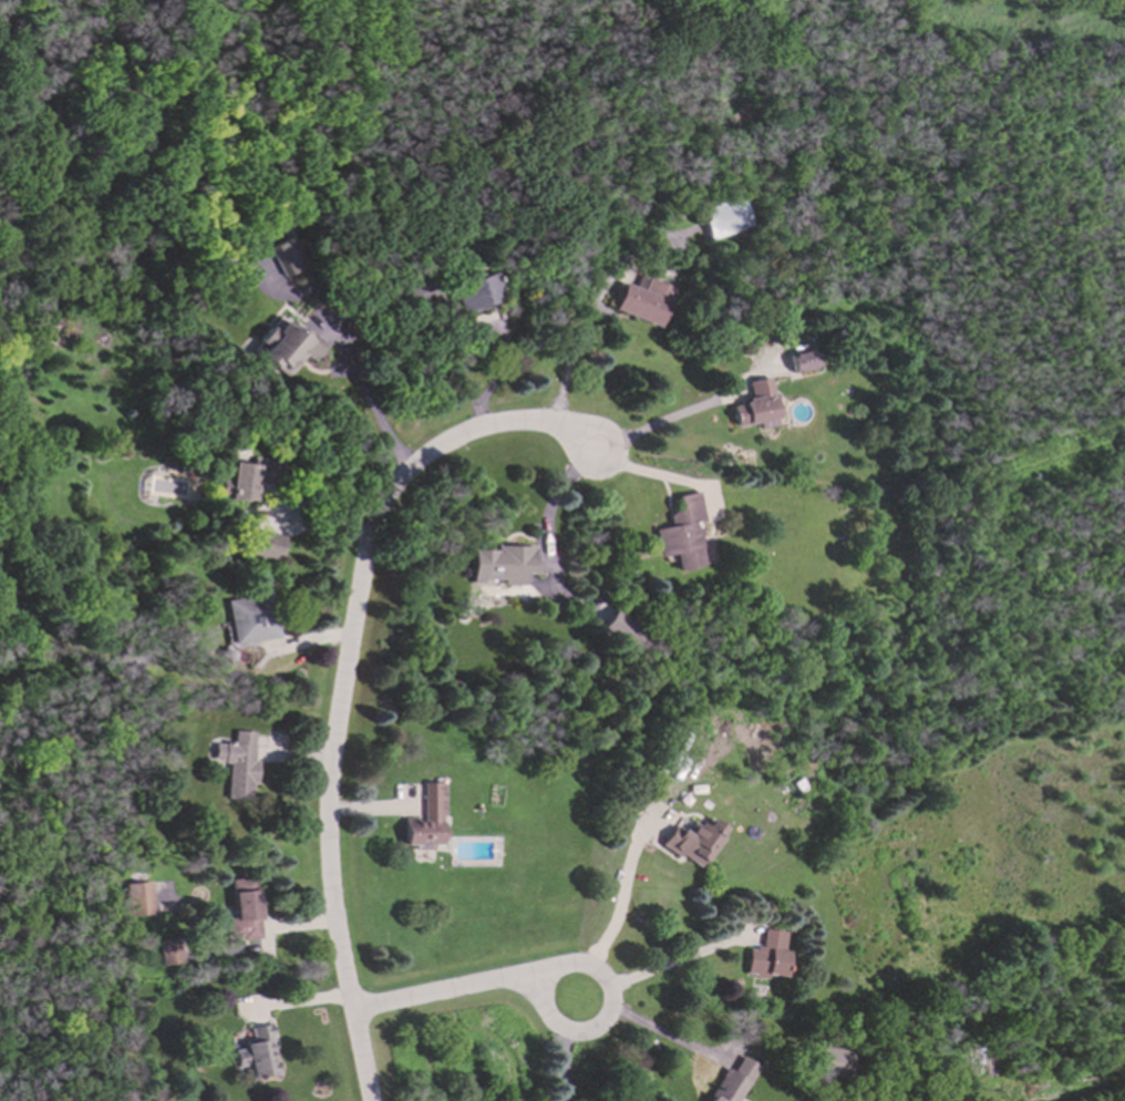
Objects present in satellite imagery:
quarry: (660, 10)
park: (1118, 114)
building: (724, 218)
building: (283, 258)
building: (474, 294)
building: (642, 301)
building: (286, 347)
building: (799, 362)
road: (565, 368)
road: (364, 395)
building: (753, 407)
road: (654, 424)
road: (651, 466)
building: (237, 484)
road: (282, 504)
road: (547, 511)
building: (678, 535)
building: (262, 545)
building: (499, 565)
building: (249, 620)
building: (621, 634)
road: (345, 678)
building: (238, 765)
building: (426, 821)
building: (693, 842)
road: (622, 886)
building: (141, 902)
building: (244, 910)
building: (171, 953)
building: (767, 956)
road: (663, 964)
road: (596, 969)
road: (448, 992)
road: (648, 1027)
building: (260, 1053)
building: (834, 1062)
building: (732, 1082)

